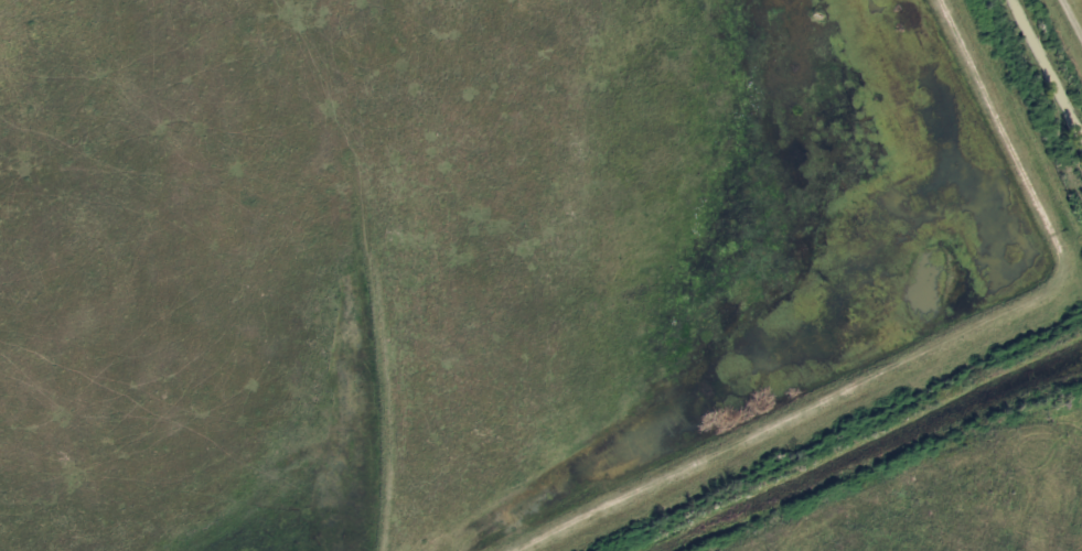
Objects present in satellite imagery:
road: (1073, 15)
road: (1052, 505)

